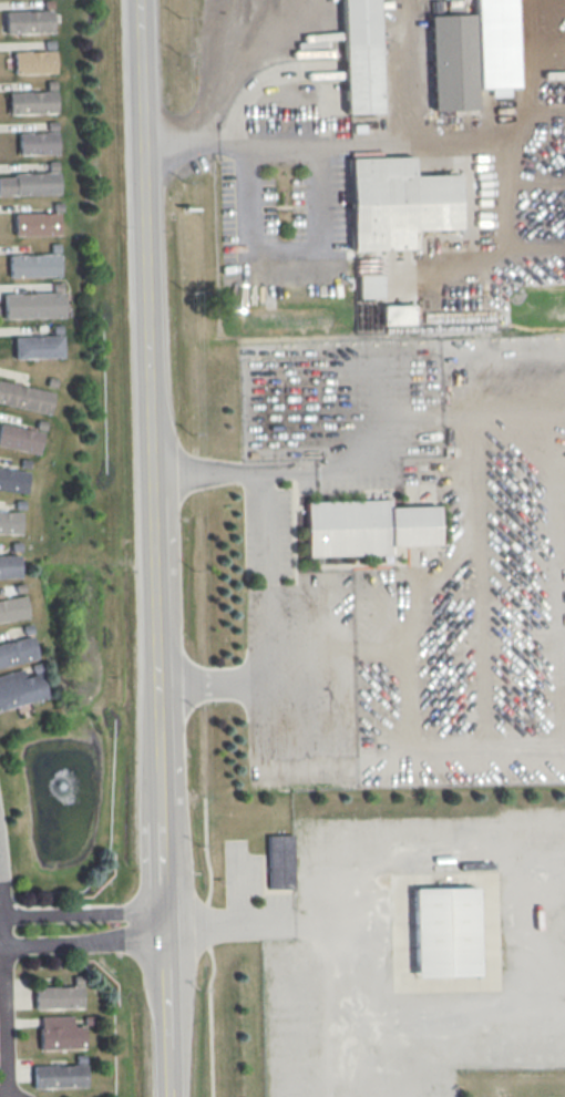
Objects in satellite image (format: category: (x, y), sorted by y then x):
building: (28, 21)
road: (233, 38)
building: (493, 43)
building: (360, 55)
building: (452, 61)
building: (33, 62)
building: (31, 102)
building: (37, 142)
road: (335, 142)
building: (29, 183)
building: (394, 203)
building: (35, 224)
road: (282, 259)
building: (33, 265)
building: (369, 286)
building: (32, 305)
building: (397, 315)
building: (38, 346)
building: (24, 397)
building: (20, 438)
road: (154, 471)
road: (253, 474)
building: (13, 480)
building: (10, 522)
building: (366, 526)
building: (9, 566)
building: (12, 608)
building: (17, 650)
road: (267, 681)
building: (20, 688)
building: (279, 861)
road: (0, 902)
road: (84, 913)
road: (236, 920)
road: (2, 931)
building: (444, 932)
road: (83, 944)
building: (58, 996)
road: (169, 1019)
road: (3, 1022)
building: (60, 1033)
building: (59, 1075)

